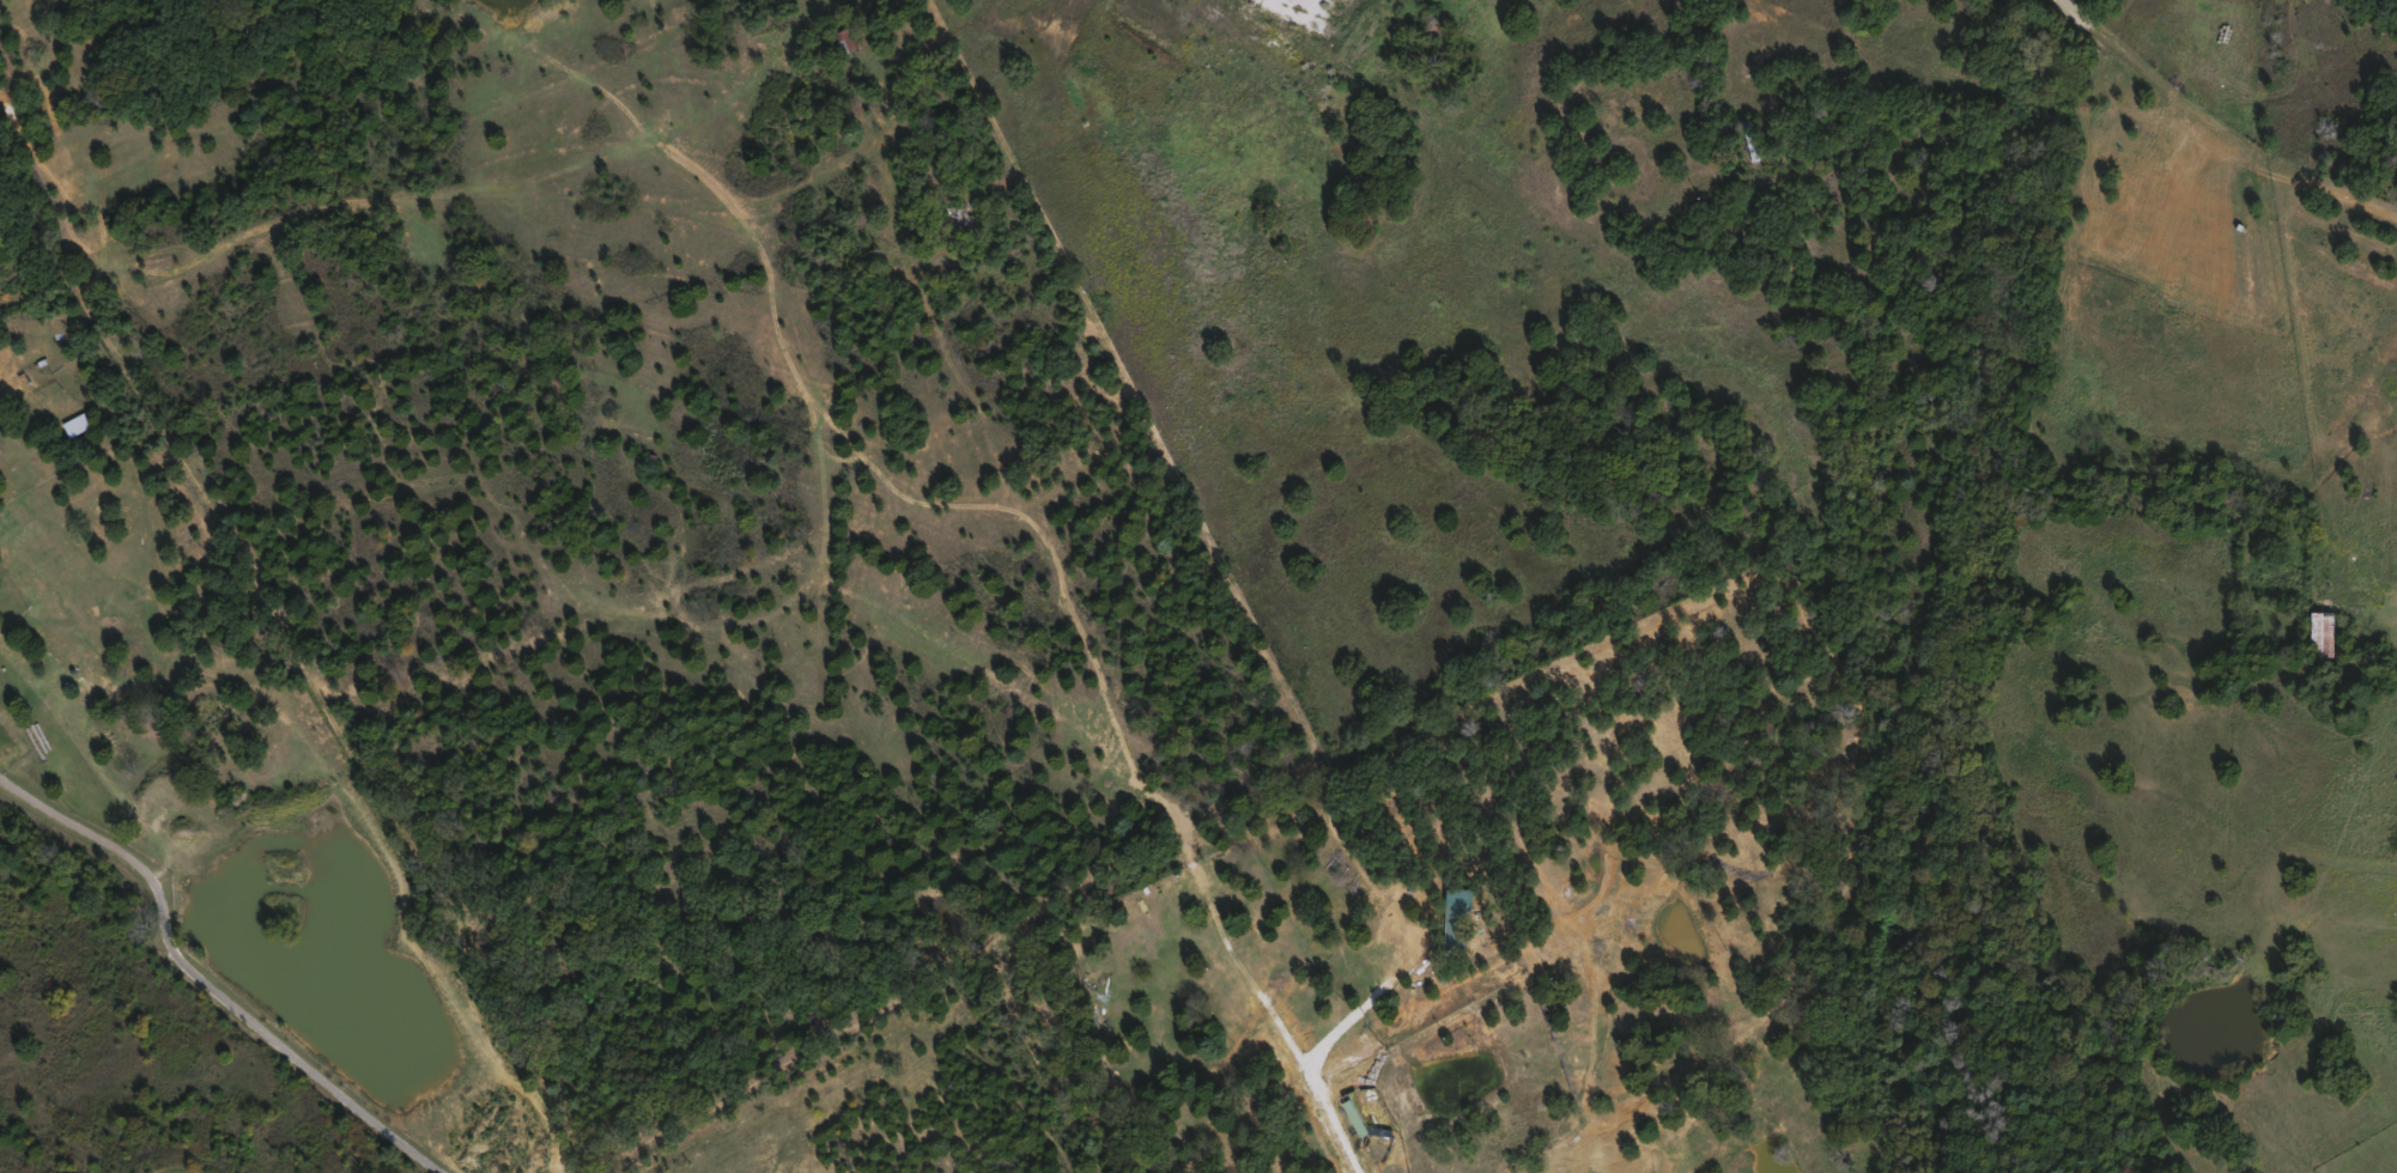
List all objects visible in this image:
building: (838, 38)
building: (2314, 575)
building: (2317, 633)
road: (1679, 905)
road: (205, 980)
building: (1352, 1116)
building: (675, 1167)

